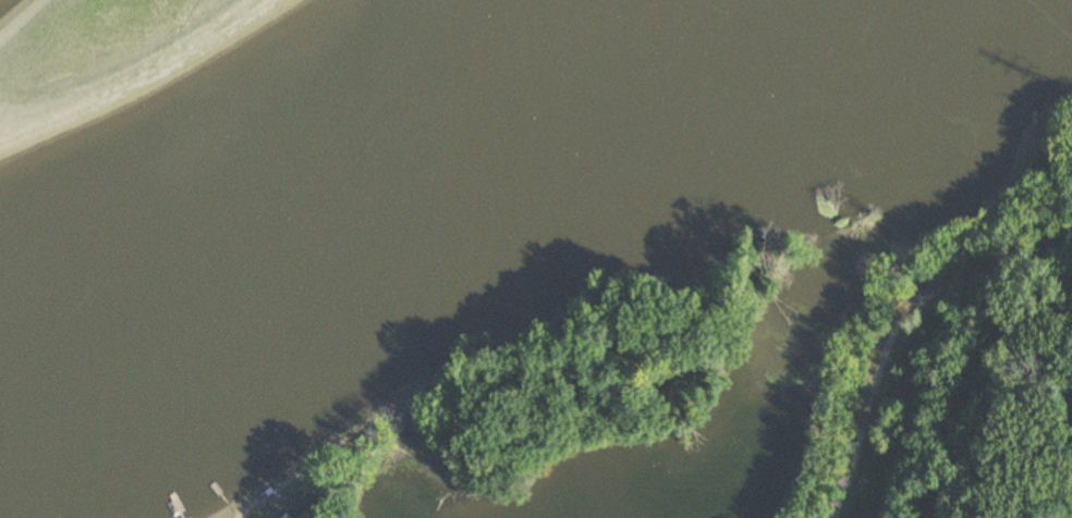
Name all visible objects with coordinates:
river: (288, 151)
road: (898, 328)
park: (958, 353)
park: (330, 474)

